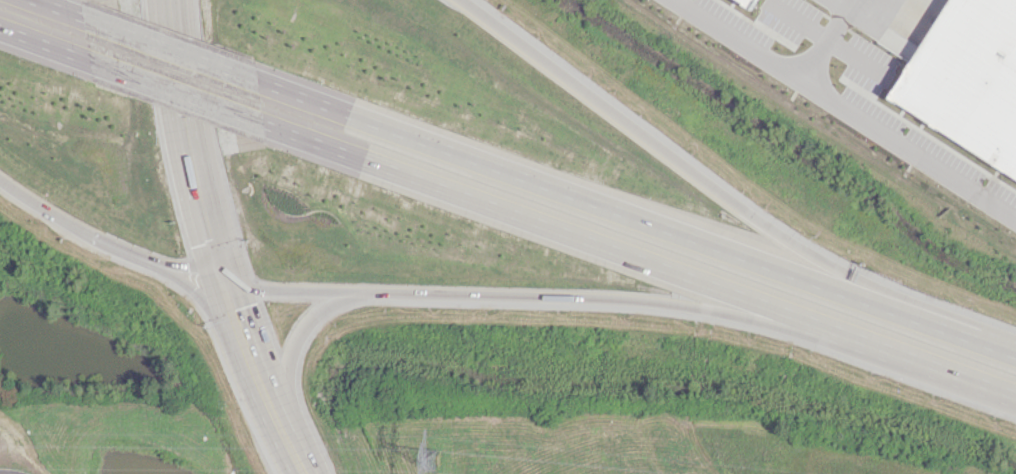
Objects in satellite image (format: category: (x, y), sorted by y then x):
building: (758, 1)
road: (61, 8)
road: (169, 17)
road: (45, 43)
road: (172, 48)
building: (969, 80)
road: (178, 91)
road: (849, 108)
road: (190, 150)
road: (692, 171)
road: (597, 202)
road: (541, 222)
road: (78, 227)
traffic signals: (220, 265)
road: (190, 267)
road: (515, 295)
road: (207, 302)
road: (236, 303)
road: (976, 339)
road: (296, 341)
road: (916, 358)
road: (268, 379)
road: (296, 445)
power tower: (427, 458)

